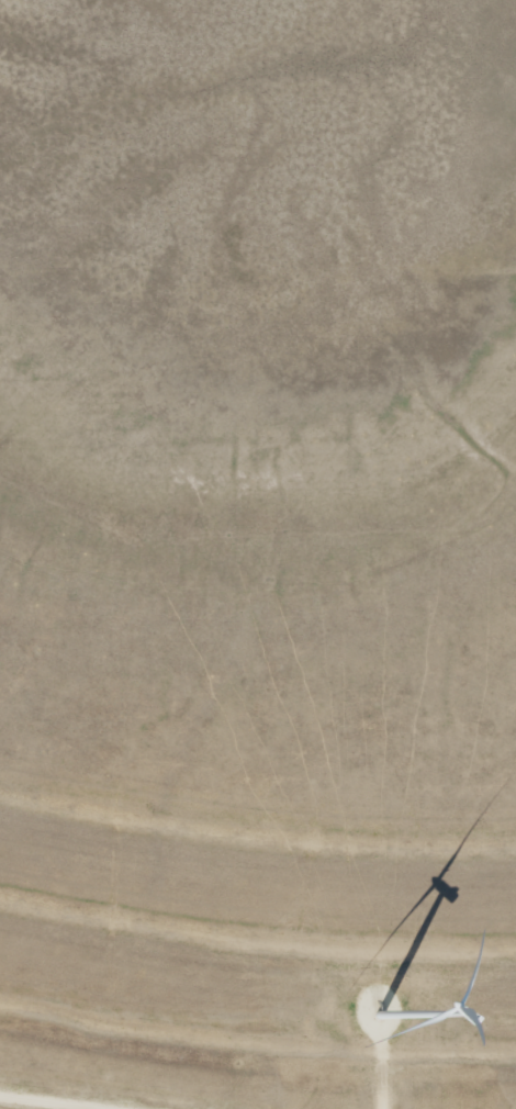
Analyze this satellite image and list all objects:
wind turbine: (379, 1013)

